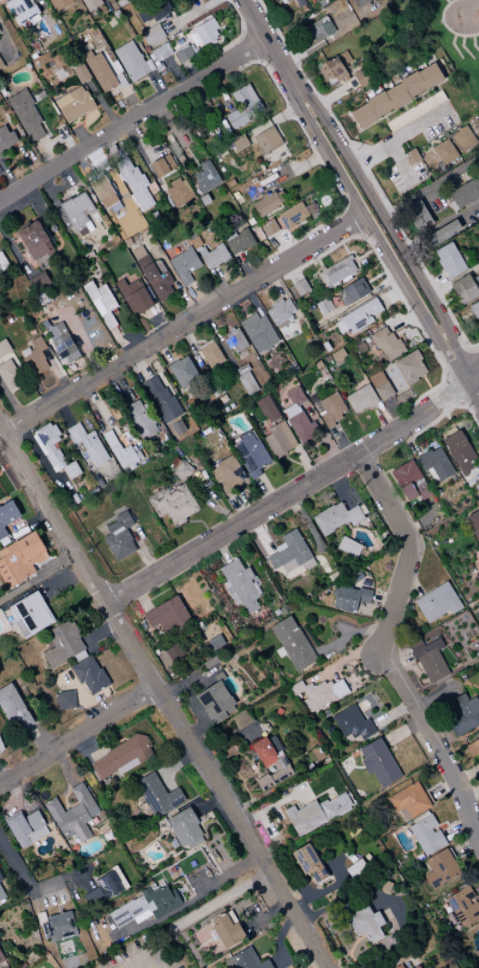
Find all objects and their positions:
building: (276, 0)
road: (109, 1)
building: (356, 1)
road: (446, 1)
building: (300, 2)
road: (37, 3)
building: (321, 3)
building: (59, 4)
building: (91, 4)
building: (22, 10)
building: (154, 10)
road: (189, 15)
building: (320, 28)
road: (446, 28)
building: (205, 32)
building: (152, 34)
park: (456, 38)
road: (315, 44)
road: (472, 44)
road: (267, 45)
road: (453, 46)
road: (463, 48)
building: (161, 52)
building: (182, 55)
road: (218, 55)
building: (151, 57)
building: (131, 61)
building: (1, 65)
building: (76, 65)
building: (160, 70)
road: (192, 70)
building: (99, 71)
building: (333, 71)
building: (81, 73)
building: (60, 74)
building: (364, 77)
road: (178, 78)
building: (119, 81)
road: (157, 86)
road: (334, 93)
building: (397, 95)
road: (420, 97)
road: (299, 101)
road: (130, 102)
building: (73, 103)
road: (101, 104)
road: (412, 105)
building: (243, 106)
road: (404, 107)
building: (416, 110)
road: (391, 111)
building: (26, 114)
road: (131, 117)
road: (430, 127)
road: (398, 135)
building: (6, 138)
building: (465, 139)
building: (267, 140)
building: (239, 143)
building: (445, 152)
road: (44, 154)
building: (0, 156)
building: (413, 156)
road: (352, 160)
road: (400, 164)
building: (162, 166)
road: (350, 166)
road: (7, 176)
building: (205, 176)
building: (133, 183)
road: (429, 186)
building: (102, 191)
building: (179, 191)
building: (466, 192)
road: (353, 197)
building: (265, 204)
building: (419, 215)
building: (286, 218)
road: (439, 227)
building: (444, 232)
building: (237, 240)
building: (30, 247)
building: (138, 255)
building: (213, 256)
building: (450, 260)
building: (2, 264)
building: (183, 265)
building: (336, 272)
building: (157, 280)
building: (38, 281)
road: (433, 282)
building: (300, 287)
building: (465, 288)
building: (353, 291)
road: (438, 292)
building: (133, 296)
building: (101, 303)
building: (475, 309)
road: (436, 311)
building: (279, 312)
building: (357, 317)
road: (183, 325)
road: (433, 331)
building: (258, 333)
building: (235, 340)
building: (61, 343)
building: (386, 344)
building: (3, 348)
road: (463, 348)
building: (210, 354)
building: (34, 356)
building: (410, 367)
road: (471, 369)
building: (182, 371)
building: (9, 376)
building: (247, 383)
building: (379, 385)
road: (471, 388)
building: (160, 399)
building: (360, 399)
building: (266, 409)
building: (329, 409)
building: (140, 419)
building: (299, 428)
building: (279, 439)
building: (87, 444)
building: (53, 451)
building: (120, 451)
building: (458, 451)
building: (250, 454)
building: (434, 465)
building: (181, 470)
building: (227, 474)
building: (409, 481)
road: (288, 492)
building: (172, 503)
building: (7, 516)
building: (334, 518)
building: (474, 523)
building: (119, 537)
building: (348, 547)
building: (290, 553)
building: (20, 559)
road: (39, 577)
building: (239, 585)
building: (351, 593)
building: (436, 602)
building: (29, 614)
building: (166, 614)
building: (291, 643)
building: (63, 645)
road: (387, 649)
building: (429, 660)
building: (89, 675)
building: (318, 693)
road: (166, 695)
building: (64, 700)
building: (215, 702)
building: (13, 709)
building: (463, 714)
building: (351, 723)
road: (79, 729)
building: (474, 752)
building: (121, 757)
building: (270, 762)
building: (378, 762)
building: (157, 795)
building: (409, 800)
building: (316, 813)
building: (72, 814)
building: (25, 828)
building: (184, 829)
building: (426, 835)
building: (309, 863)
building: (440, 868)
building: (105, 887)
road: (32, 888)
building: (1, 895)
road: (220, 898)
building: (145, 905)
building: (463, 906)
building: (365, 924)
building: (57, 927)
building: (226, 930)
building: (0, 959)
building: (248, 960)
building: (398, 966)
building: (416, 966)

